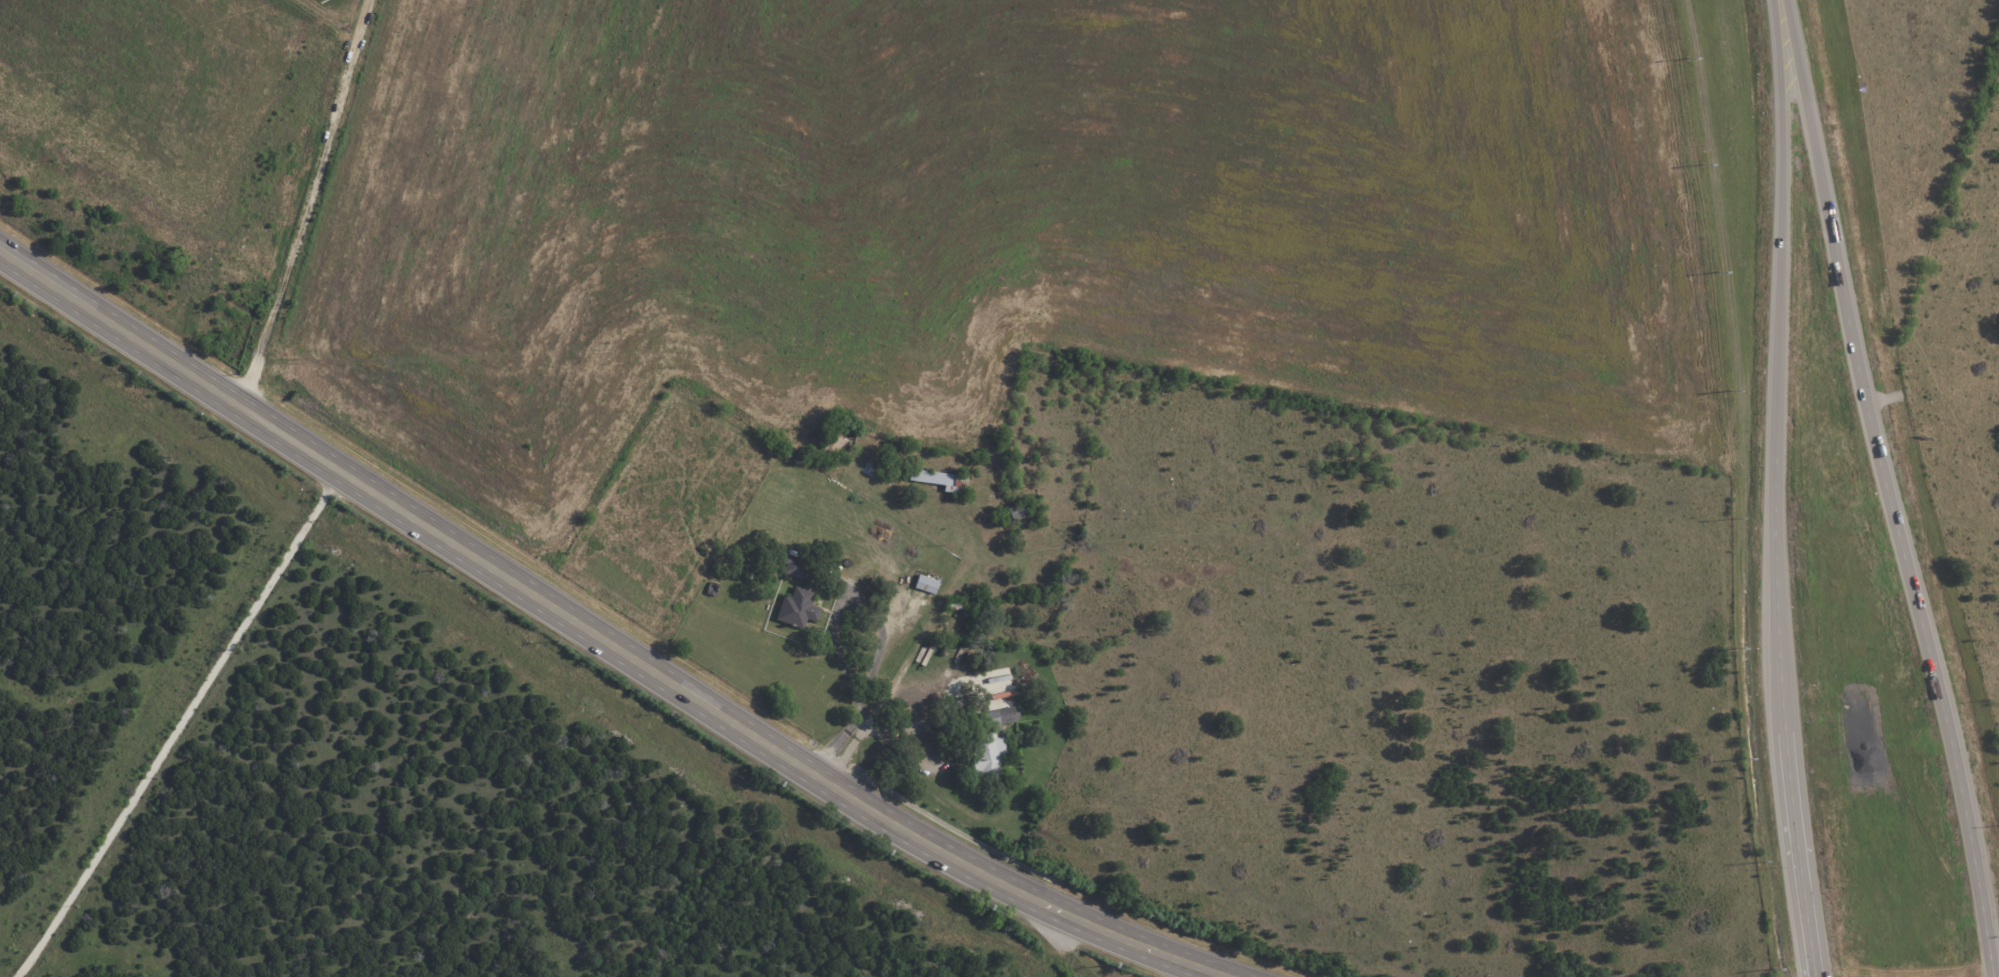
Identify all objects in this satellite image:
road: (1783, 16)
building: (940, 480)
road: (1894, 504)
road: (1779, 505)
building: (1018, 511)
building: (795, 569)
building: (926, 584)
building: (797, 608)
road: (879, 622)
road: (600, 637)
road: (881, 695)
road: (177, 724)
building: (991, 741)
road: (1818, 973)
road: (1991, 974)

